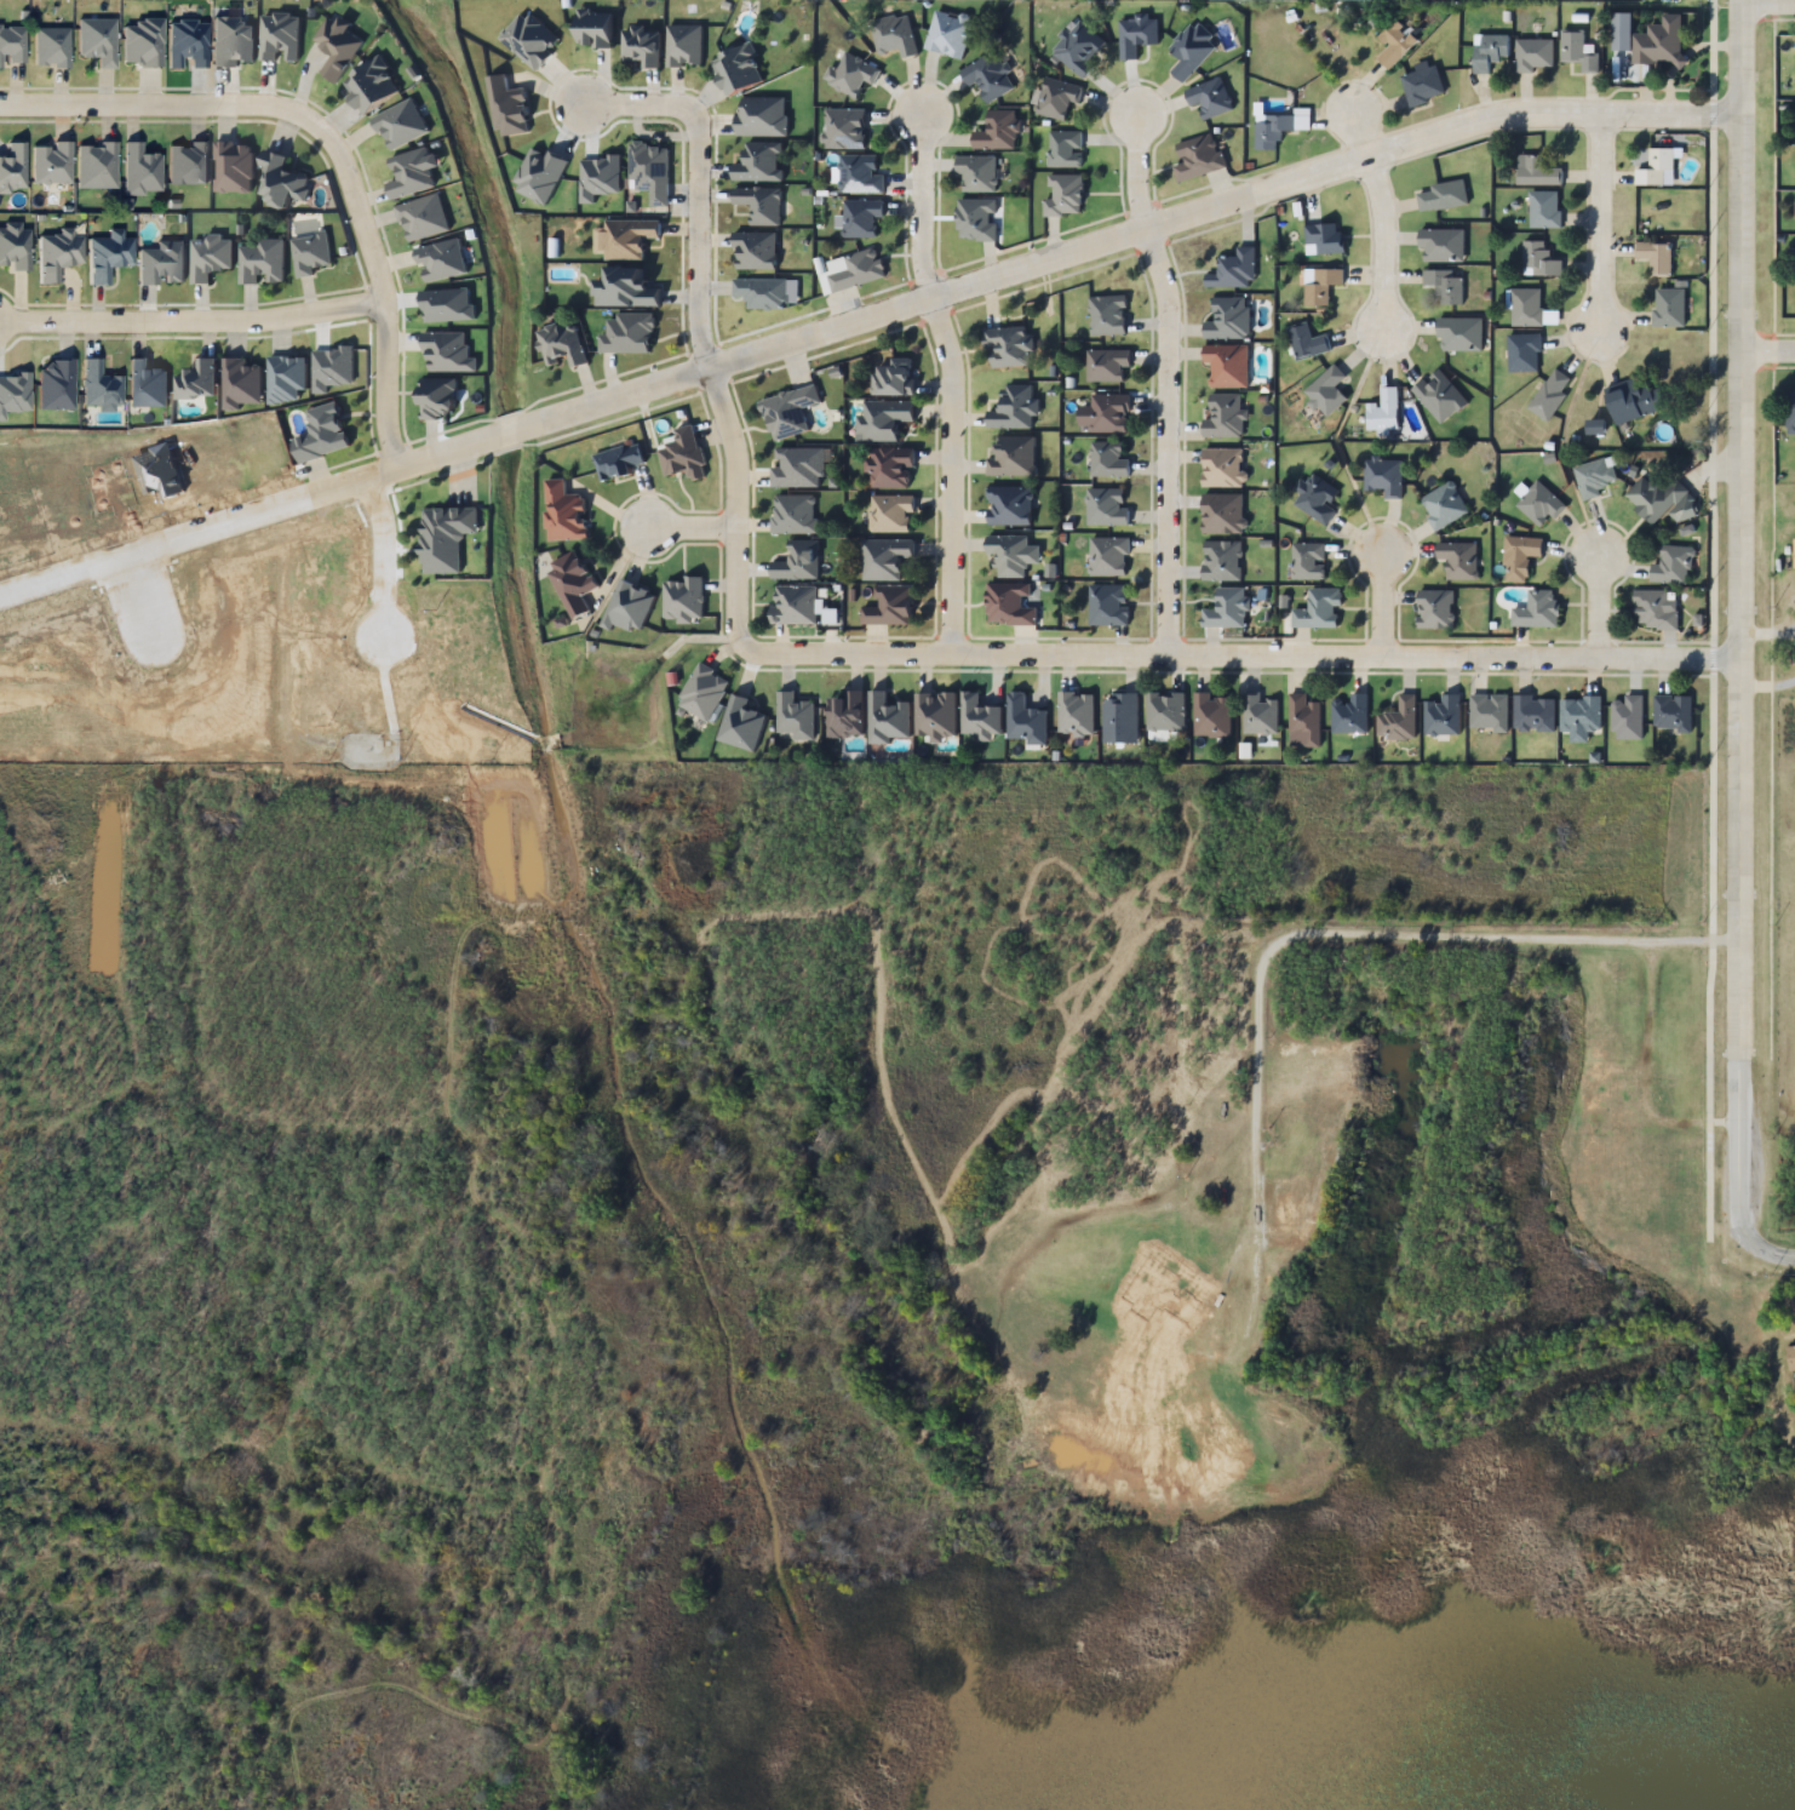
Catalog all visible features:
road: (1768, 6)
building: (593, 29)
building: (948, 34)
building: (893, 35)
building: (1135, 35)
building: (96, 40)
building: (684, 44)
building: (1395, 44)
building: (1661, 44)
building: (12, 45)
building: (52, 46)
building: (337, 47)
building: (1078, 48)
building: (642, 50)
building: (1192, 50)
building: (1490, 51)
building: (1577, 52)
building: (1535, 56)
building: (740, 67)
building: (851, 74)
building: (988, 76)
building: (1422, 85)
building: (373, 86)
building: (1056, 98)
building: (1210, 98)
building: (509, 108)
building: (401, 126)
building: (1279, 127)
building: (845, 128)
building: (997, 132)
road: (323, 141)
building: (1065, 149)
building: (1198, 157)
building: (758, 159)
building: (52, 162)
building: (188, 162)
building: (96, 165)
building: (12, 166)
building: (233, 167)
road: (1135, 168)
building: (140, 170)
building: (1658, 170)
building: (1536, 172)
building: (413, 173)
building: (860, 173)
building: (976, 173)
building: (648, 176)
building: (282, 182)
road: (693, 183)
building: (1065, 195)
building: (1443, 196)
building: (757, 207)
road: (922, 210)
building: (1544, 210)
road: (1381, 213)
building: (423, 217)
building: (861, 217)
building: (976, 219)
road: (1595, 225)
building: (630, 239)
building: (1324, 240)
building: (15, 246)
building: (1441, 246)
building: (755, 252)
building: (58, 253)
building: (109, 254)
building: (1656, 257)
building: (1541, 258)
building: (162, 262)
building: (262, 262)
building: (1237, 268)
road: (1027, 269)
building: (859, 270)
building: (1444, 285)
building: (626, 286)
building: (1320, 286)
building: (761, 293)
building: (1527, 308)
building: (1669, 308)
building: (1108, 316)
road: (191, 319)
building: (1228, 319)
building: (627, 333)
building: (1459, 334)
building: (1306, 342)
building: (562, 345)
building: (1008, 348)
building: (1524, 353)
road: (1767, 353)
building: (1107, 365)
building: (1227, 366)
building: (893, 378)
building: (287, 379)
building: (196, 380)
building: (147, 384)
building: (240, 384)
building: (99, 386)
building: (1326, 391)
building: (1550, 395)
building: (1439, 397)
building: (440, 399)
building: (1634, 401)
building: (1014, 408)
building: (1790, 409)
building: (1383, 411)
building: (788, 412)
building: (1109, 413)
building: (1223, 417)
building: (883, 420)
building: (315, 429)
road: (1172, 440)
building: (683, 456)
building: (1013, 458)
building: (1108, 460)
building: (618, 462)
building: (798, 468)
building: (890, 468)
building: (1223, 469)
road: (946, 474)
building: (1383, 477)
building: (1593, 479)
building: (1317, 498)
building: (1662, 500)
building: (1539, 504)
building: (1444, 505)
building: (1010, 506)
building: (1107, 508)
building: (564, 514)
building: (793, 514)
building: (890, 515)
building: (1222, 515)
road: (684, 529)
building: (446, 537)
building: (1013, 554)
building: (1108, 556)
building: (1520, 556)
building: (885, 557)
building: (1458, 560)
building: (797, 561)
building: (1221, 561)
building: (1307, 561)
building: (1673, 566)
building: (573, 584)
building: (683, 600)
road: (1377, 600)
building: (1010, 603)
road: (1600, 603)
building: (795, 605)
building: (890, 606)
building: (1108, 606)
building: (629, 608)
building: (1227, 609)
building: (1318, 609)
building: (1435, 609)
building: (1538, 609)
building: (1656, 609)
road: (1737, 612)
road: (1096, 652)
building: (704, 693)
building: (1165, 711)
building: (1489, 712)
building: (1076, 714)
building: (1533, 714)
building: (847, 715)
building: (935, 715)
building: (1261, 715)
building: (1349, 715)
building: (1579, 715)
building: (1671, 715)
building: (1211, 716)
building: (1443, 716)
building: (979, 717)
building: (793, 718)
building: (887, 718)
building: (1119, 718)
building: (1627, 718)
building: (1398, 721)
building: (1025, 722)
building: (1303, 722)
building: (741, 726)
building: (1595, 1112)
building: (1285, 1208)
road: (1760, 1249)
building: (1791, 1357)

